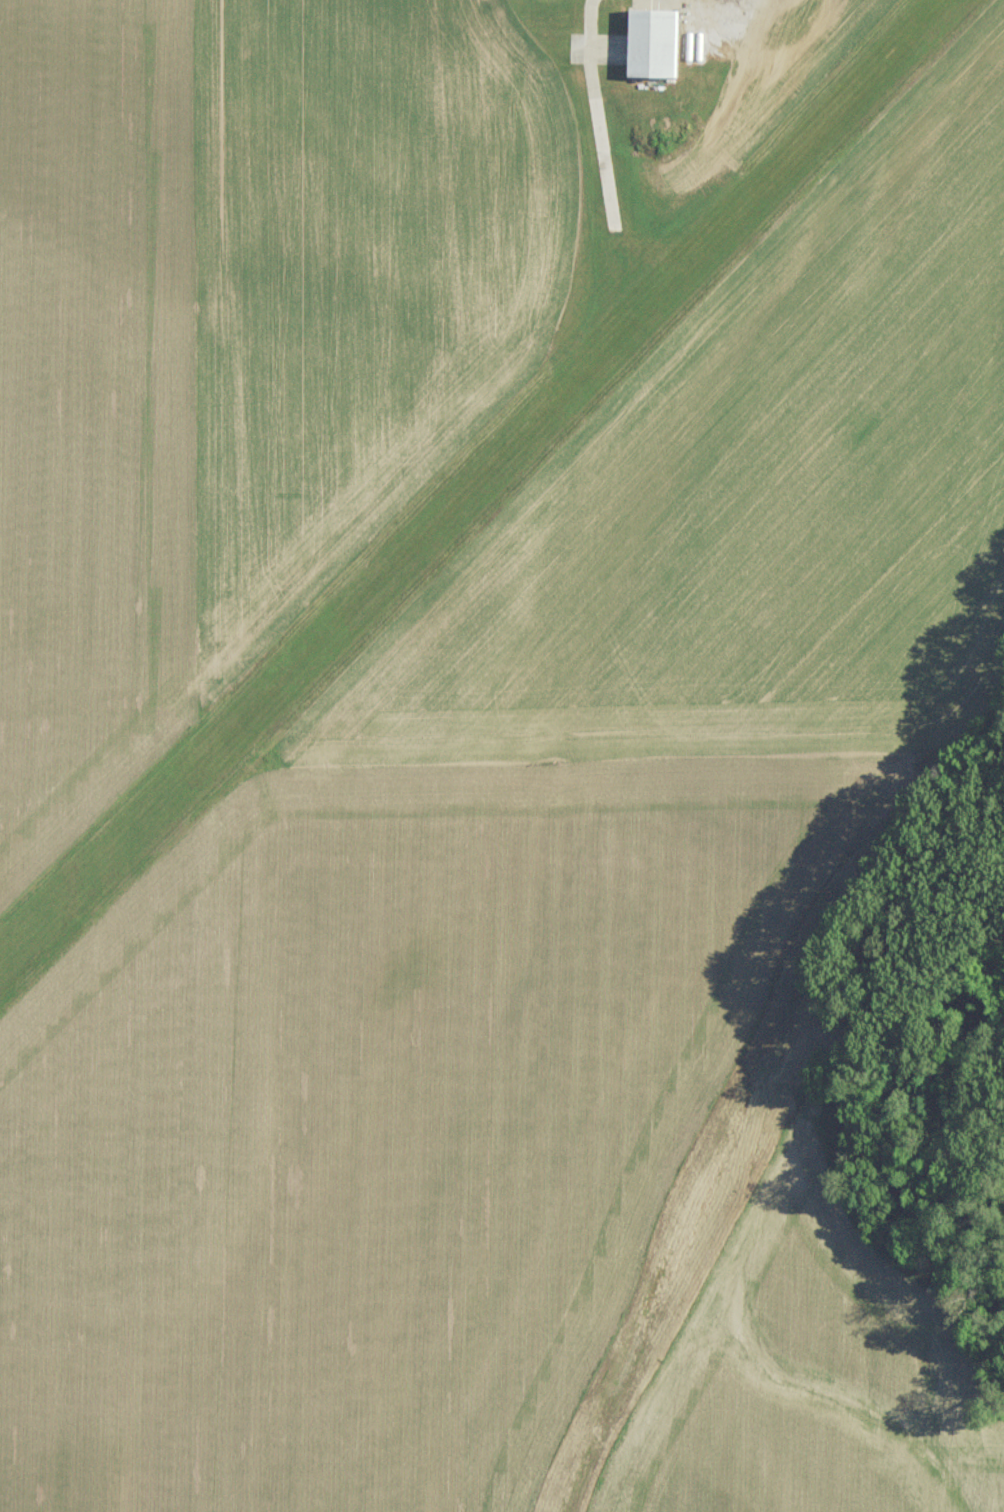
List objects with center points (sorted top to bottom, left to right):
building: (647, 43)

